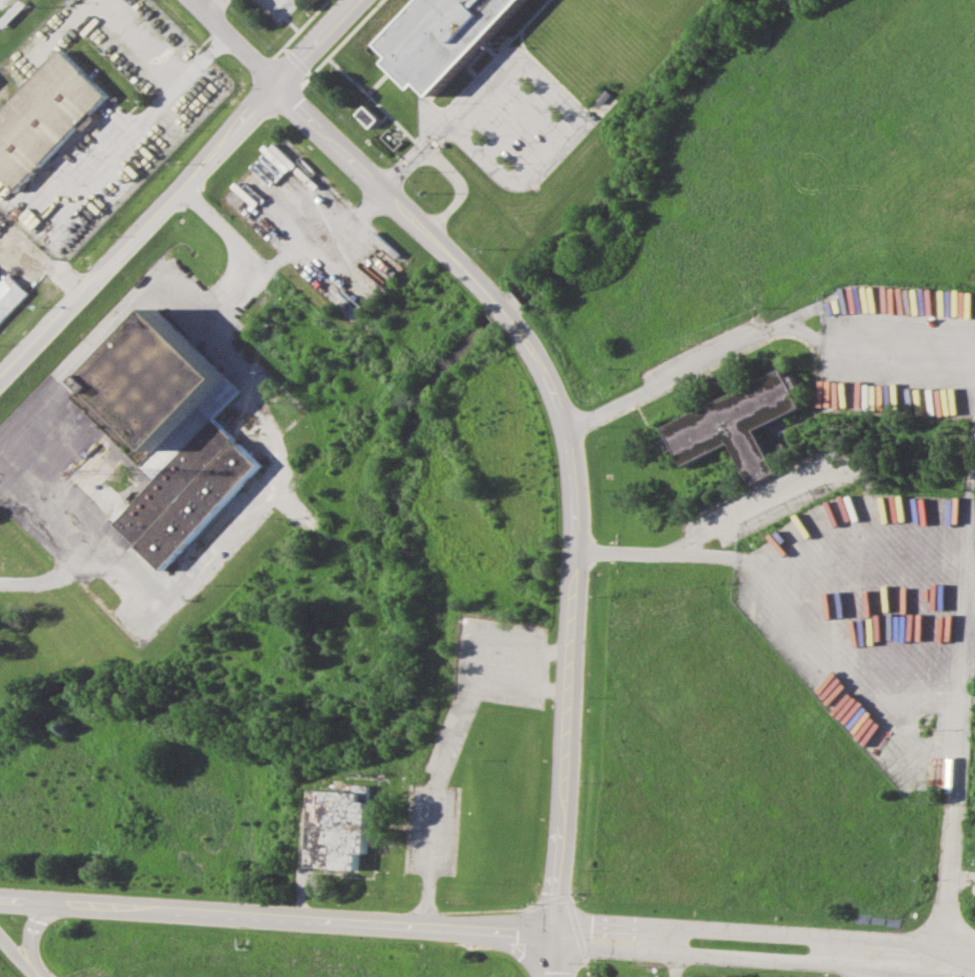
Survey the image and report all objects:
parking lot: (216, 5)
road: (211, 7)
parking lot: (277, 7)
building: (441, 36)
road: (231, 41)
building: (44, 116)
building: (367, 116)
road: (572, 117)
road: (434, 130)
road: (390, 180)
road: (175, 188)
road: (460, 189)
building: (10, 295)
road: (697, 365)
road: (68, 380)
building: (155, 392)
building: (736, 424)
road: (568, 452)
building: (187, 493)
road: (250, 501)
road: (706, 529)
road: (524, 659)
road: (445, 756)
building: (338, 828)
road: (948, 830)
road: (274, 916)
road: (761, 932)
road: (26, 933)
traffic signals: (550, 934)
road: (548, 955)
road: (761, 959)
road: (15, 960)

